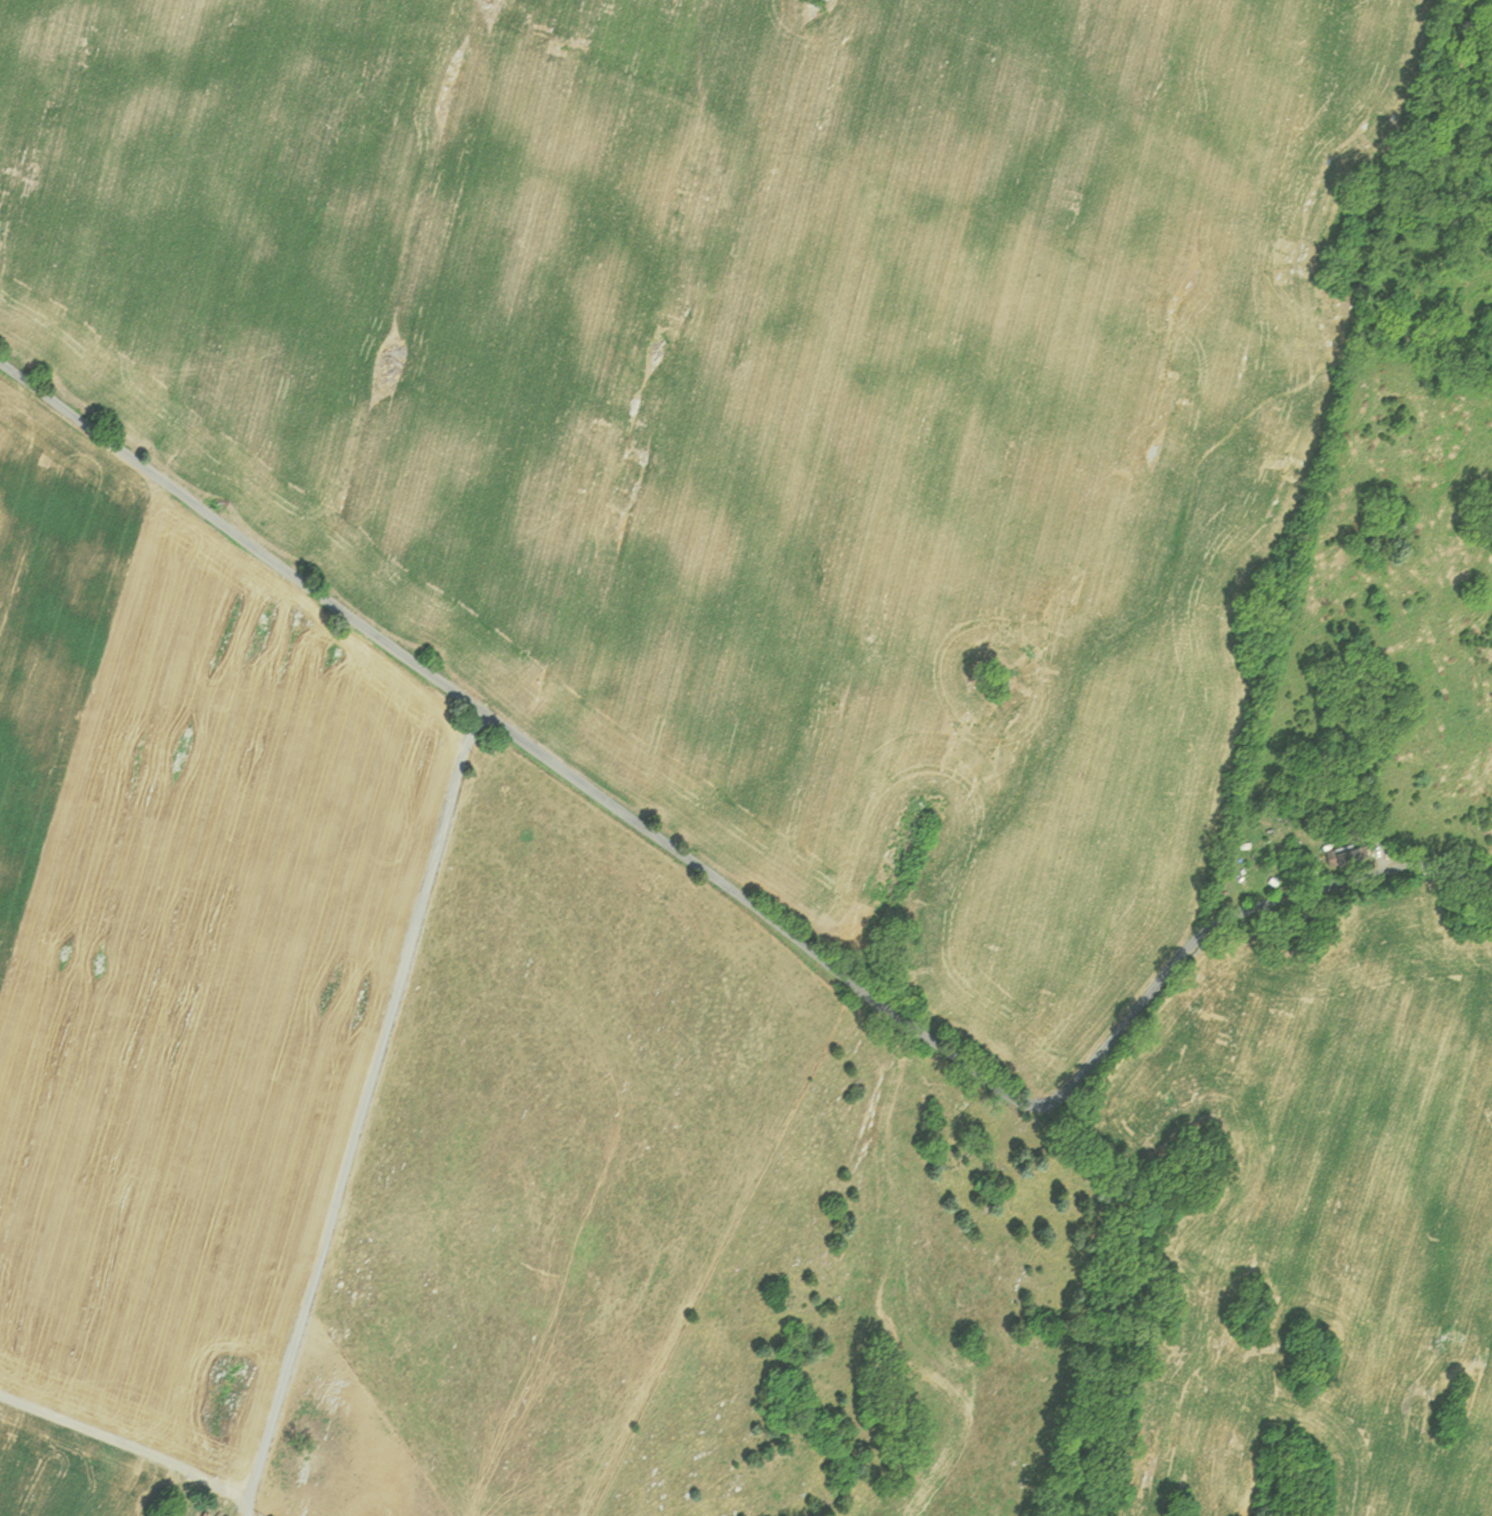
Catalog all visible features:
road: (724, 906)
road: (361, 1114)

